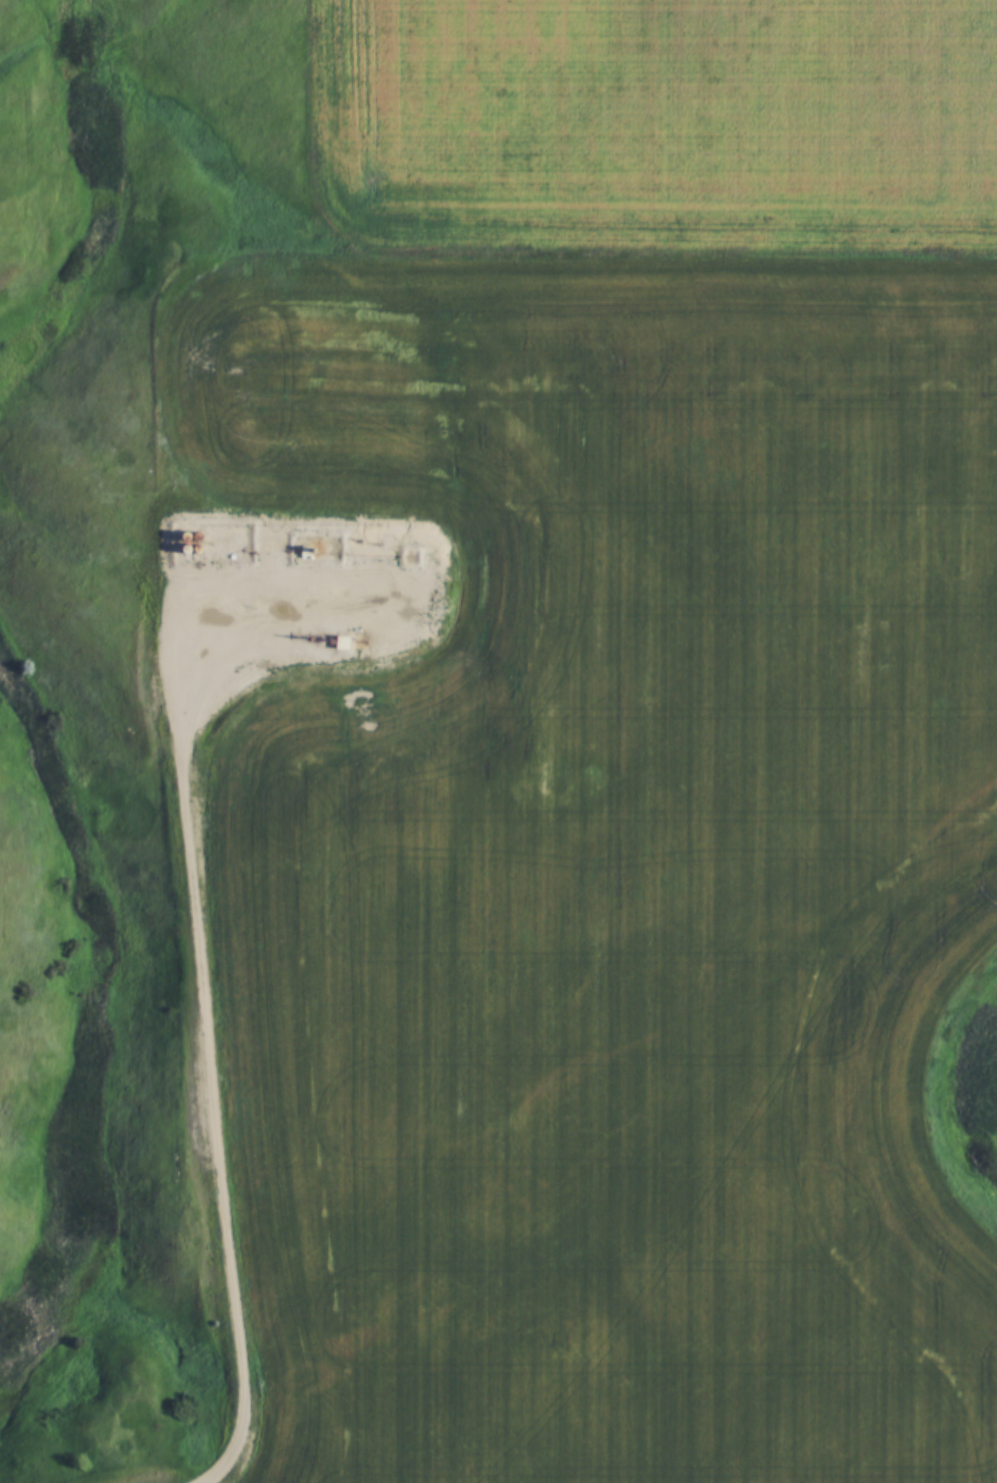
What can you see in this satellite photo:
building: (337, 642)
road: (200, 961)

